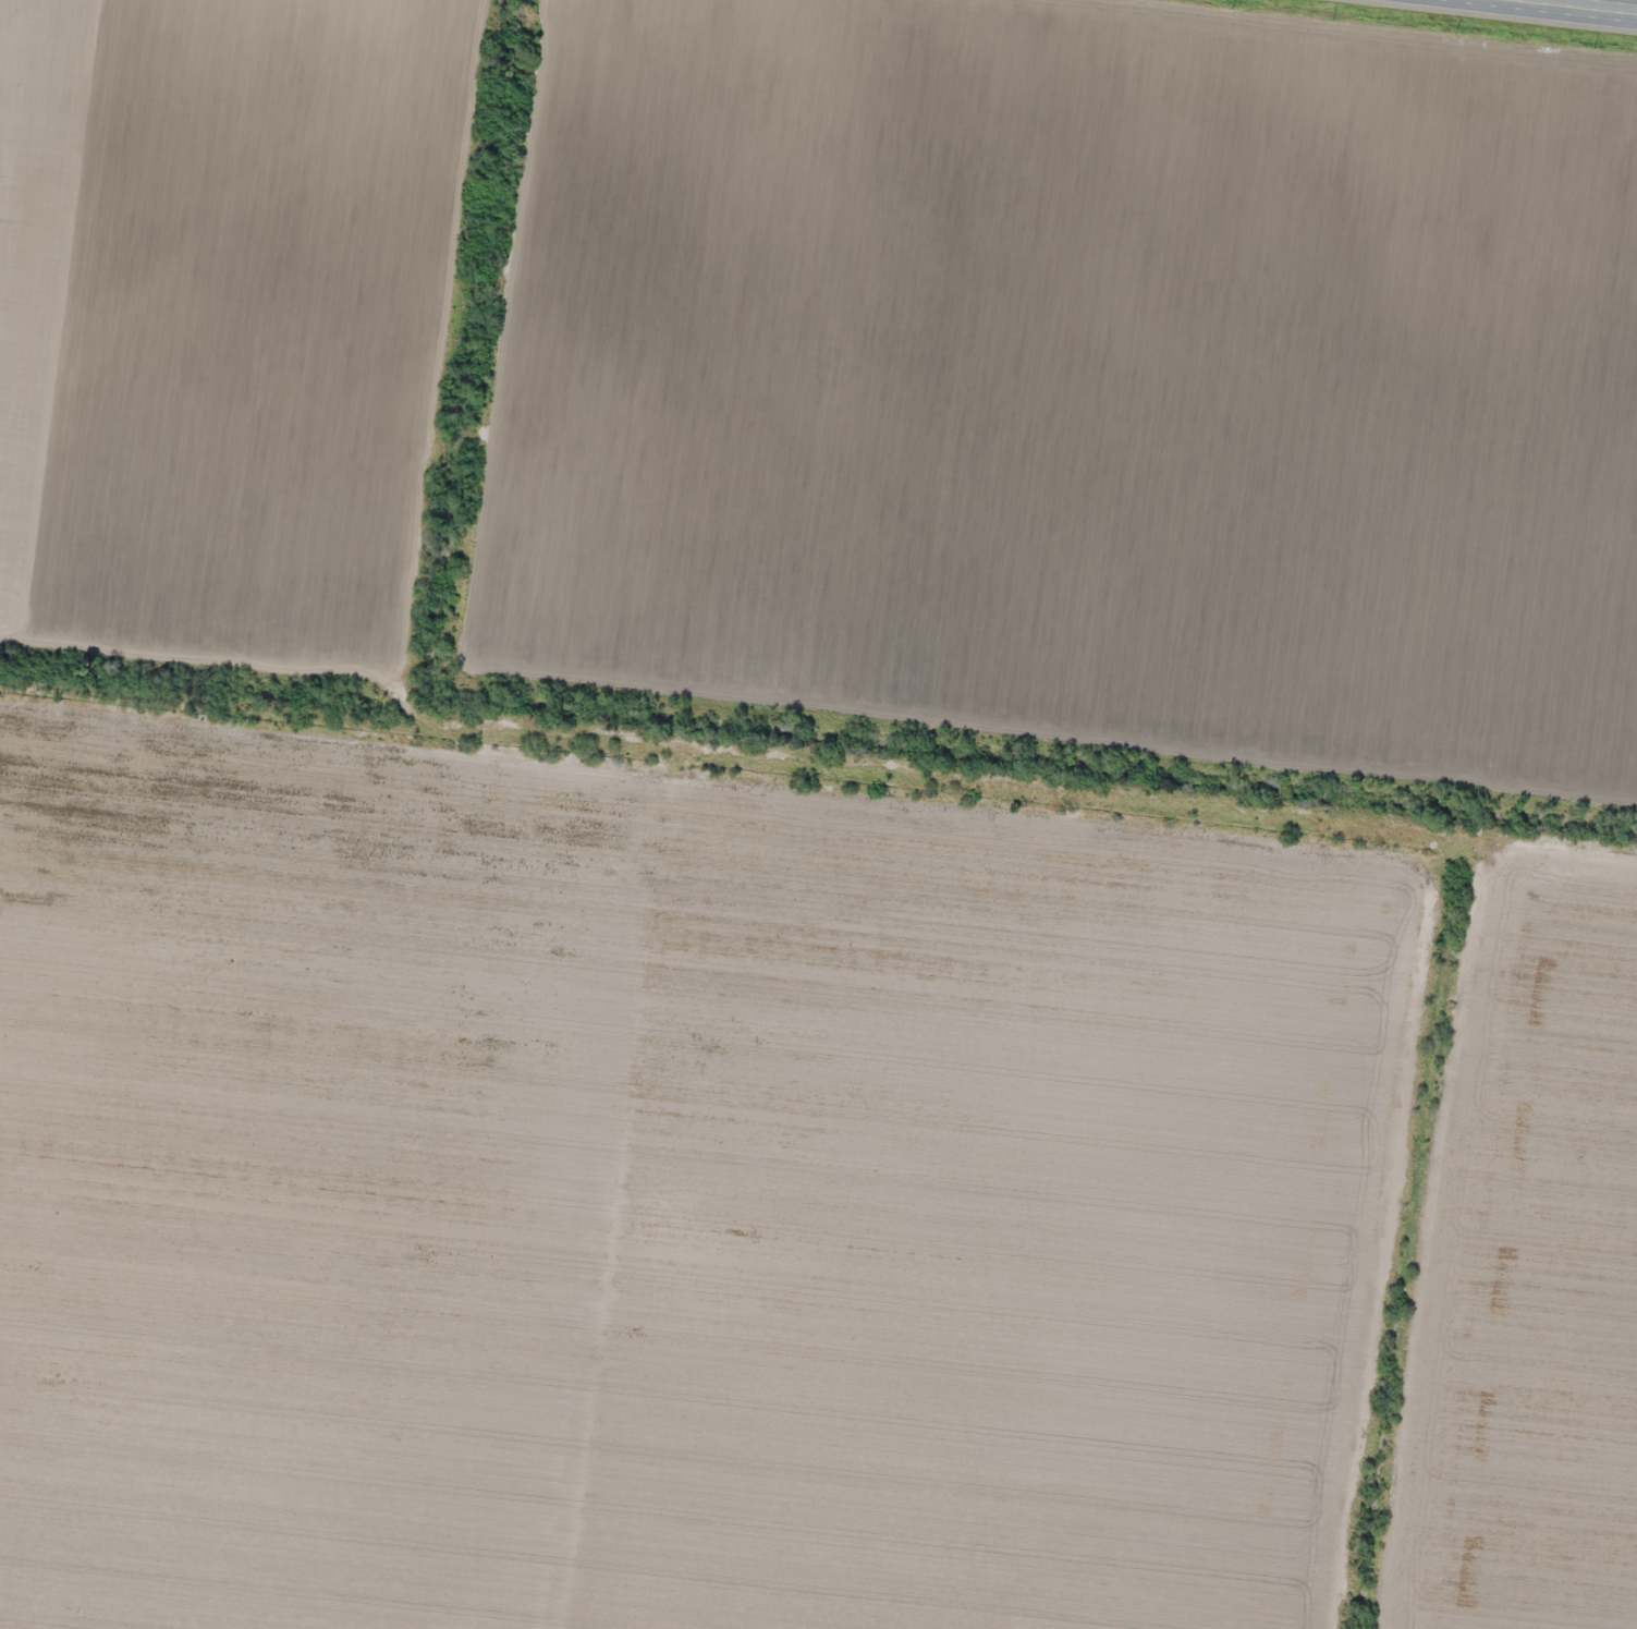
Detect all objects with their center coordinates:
road: (1600, 3)

